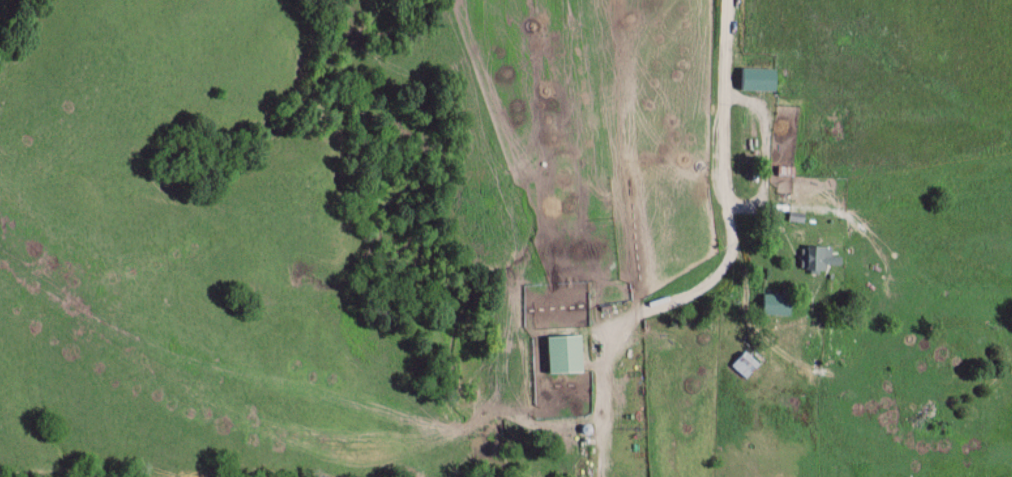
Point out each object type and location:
building: (824, 260)
road: (721, 272)
building: (832, 339)
building: (569, 355)
building: (748, 365)

